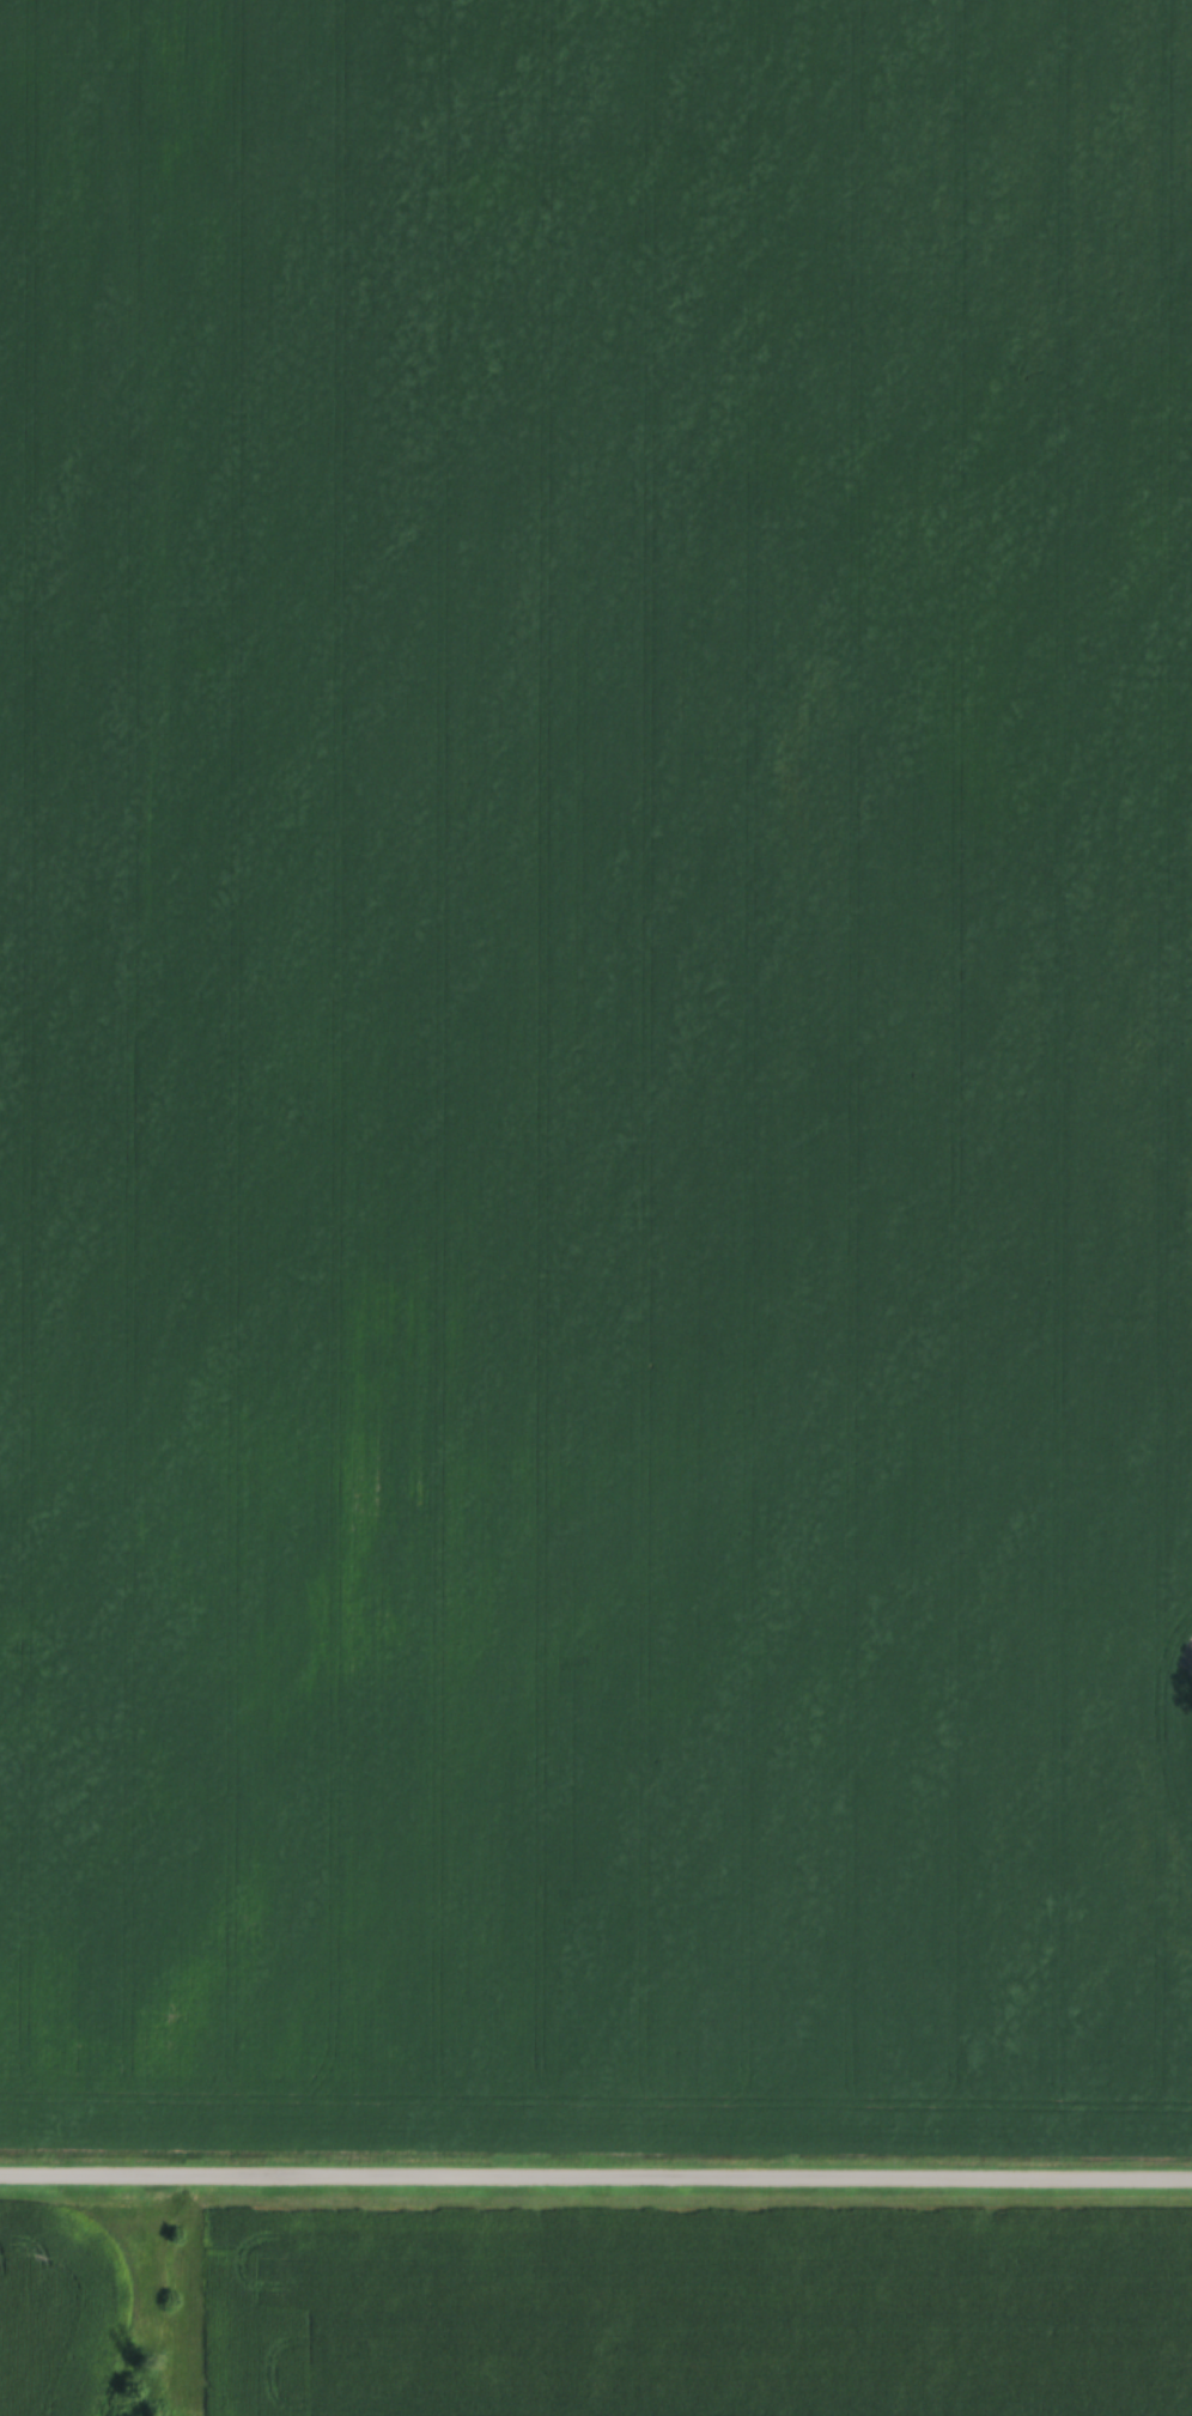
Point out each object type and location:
road: (595, 2171)

